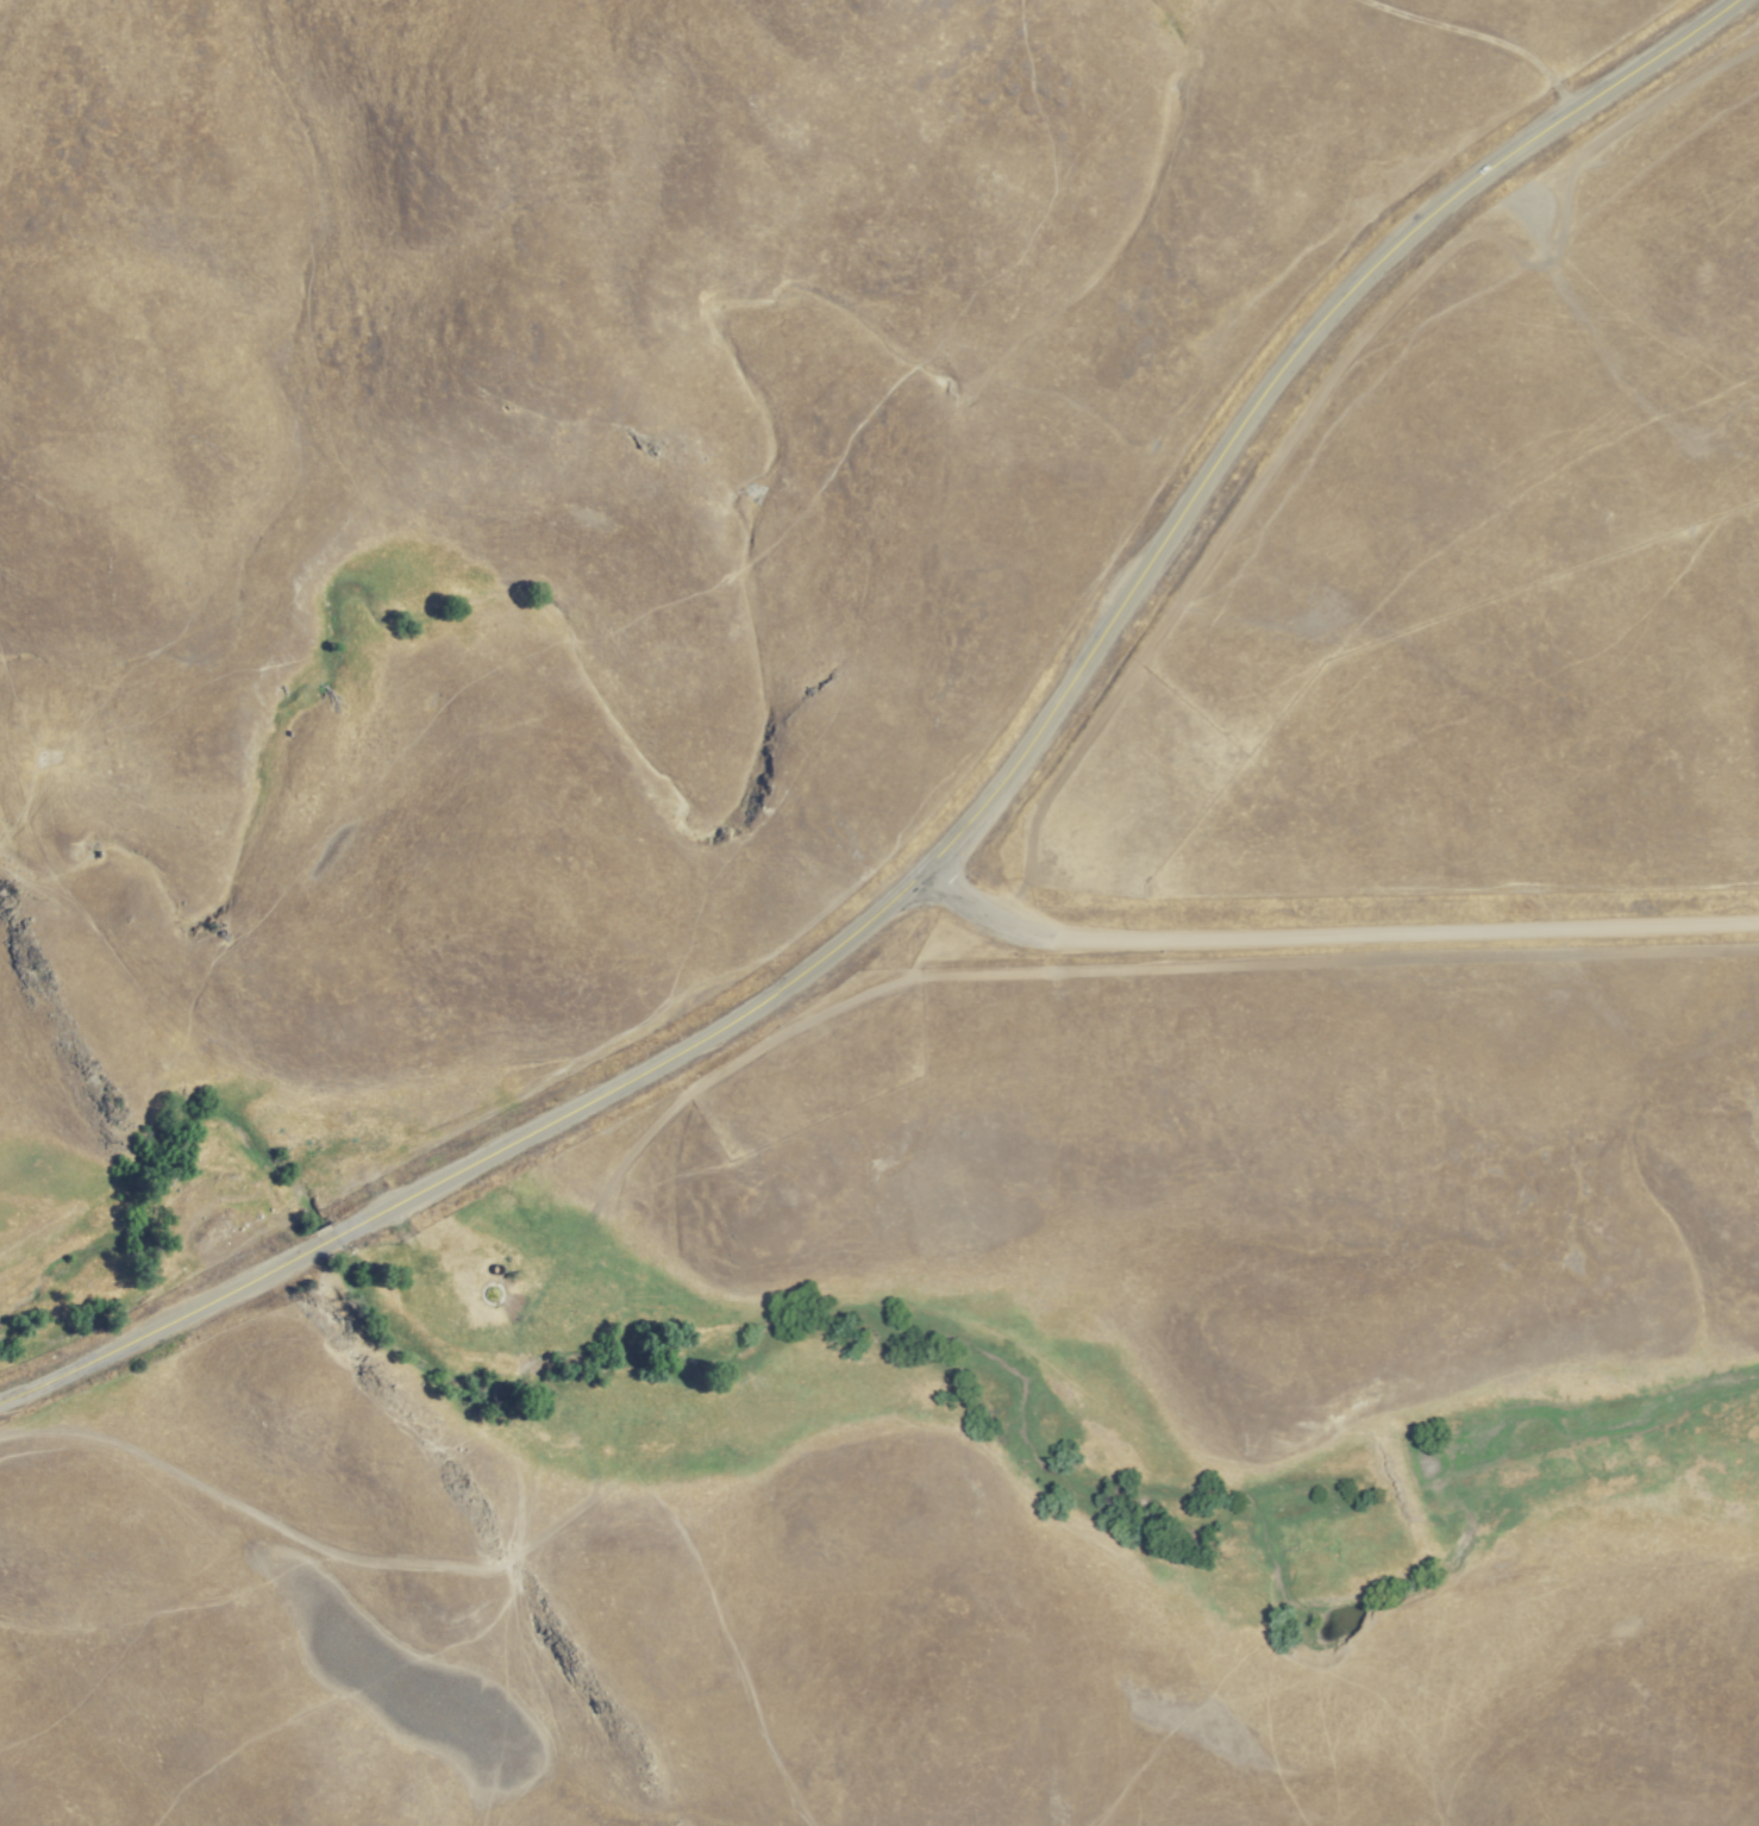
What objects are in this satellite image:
road: (1077, 668)
road: (1332, 936)
road: (319, 1246)
road: (150, 1327)

